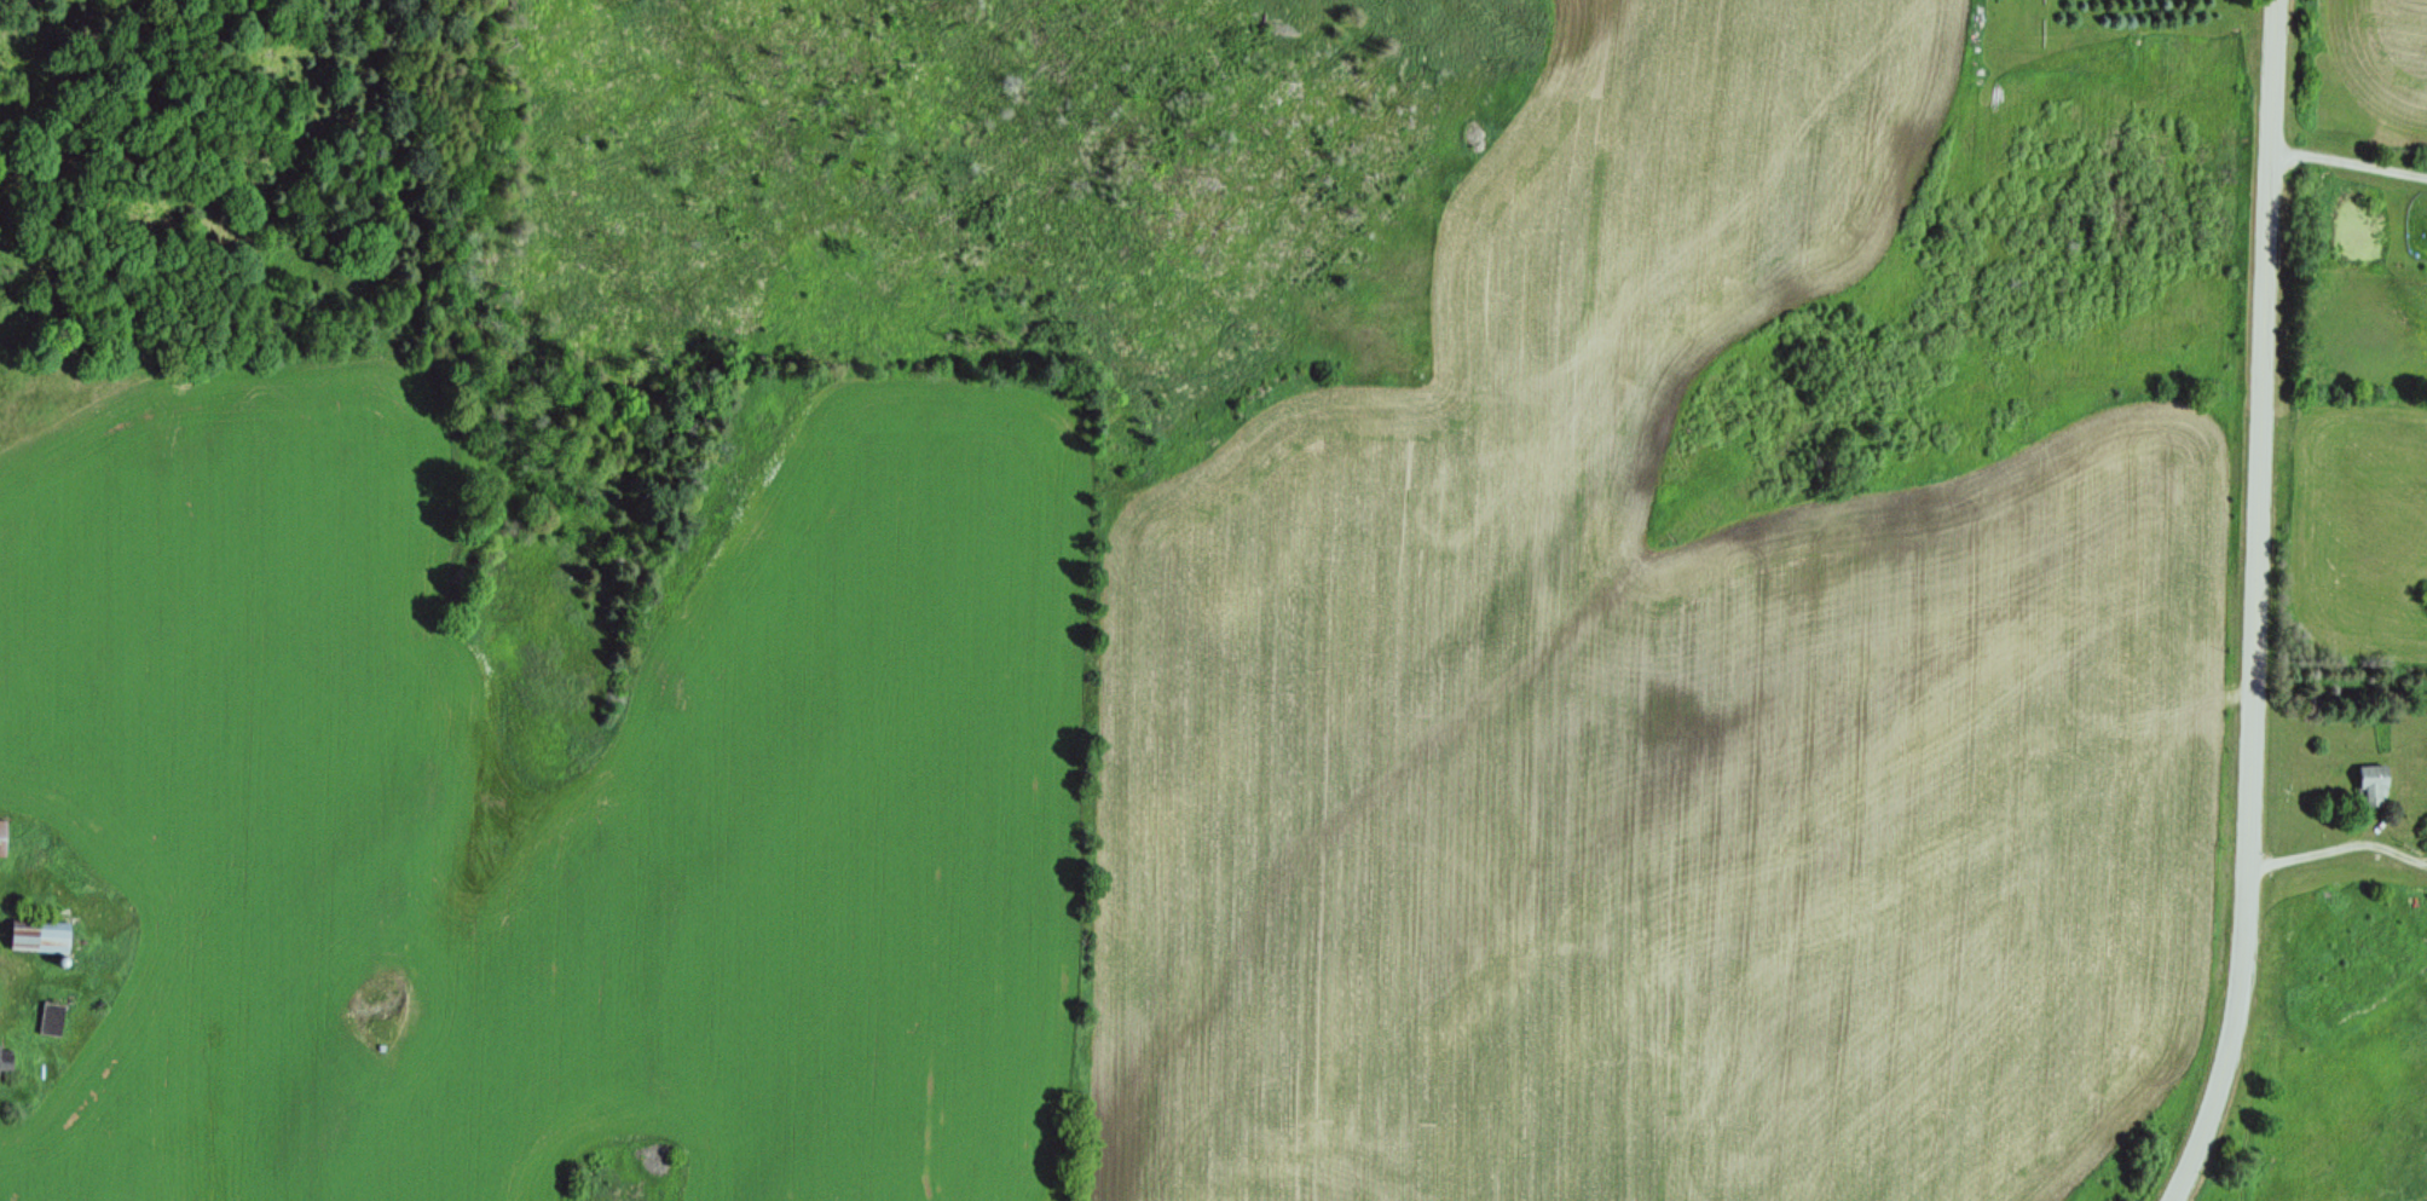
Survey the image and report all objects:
road: (2345, 164)
road: (2252, 606)
building: (2374, 786)
building: (2, 838)
building: (39, 937)
building: (52, 1020)
building: (6, 1061)

